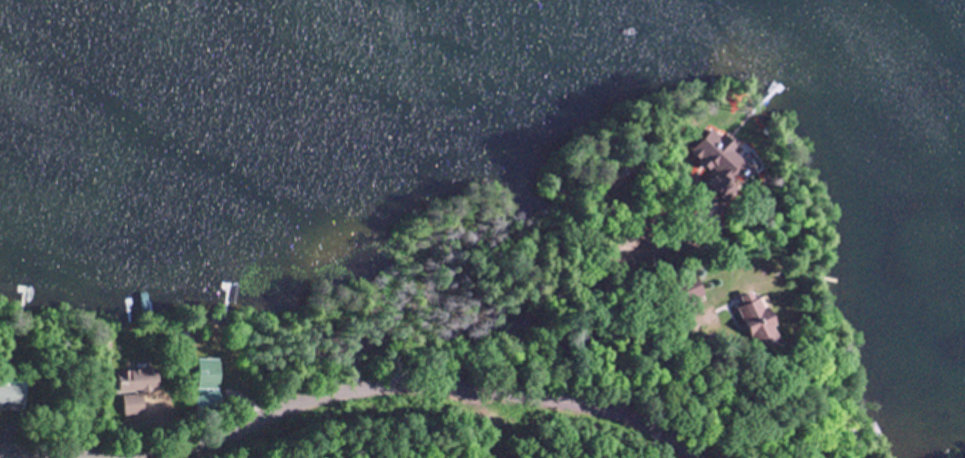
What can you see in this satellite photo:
building: (758, 315)
building: (210, 371)
building: (142, 379)
road: (434, 385)
building: (13, 395)
road: (55, 455)

